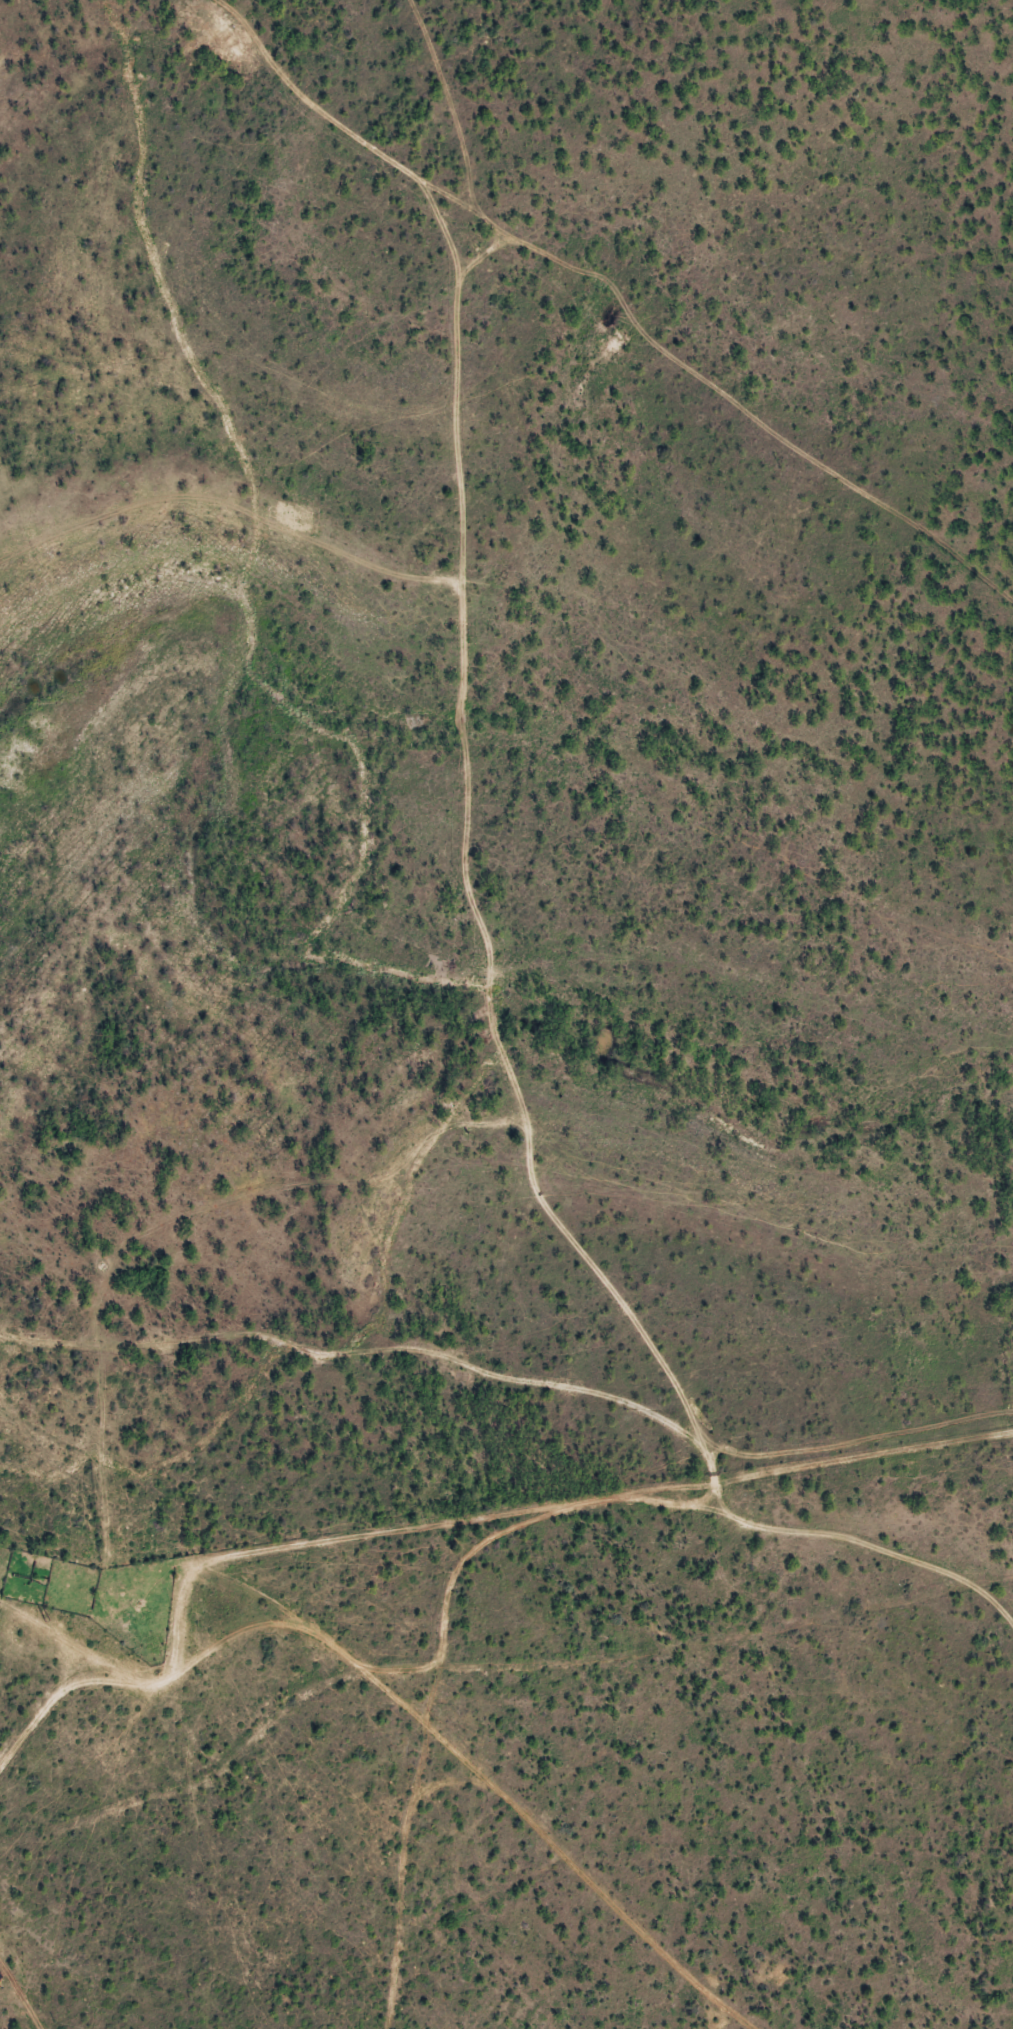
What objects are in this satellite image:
road: (470, 897)
road: (346, 1635)
road: (634, 1648)

